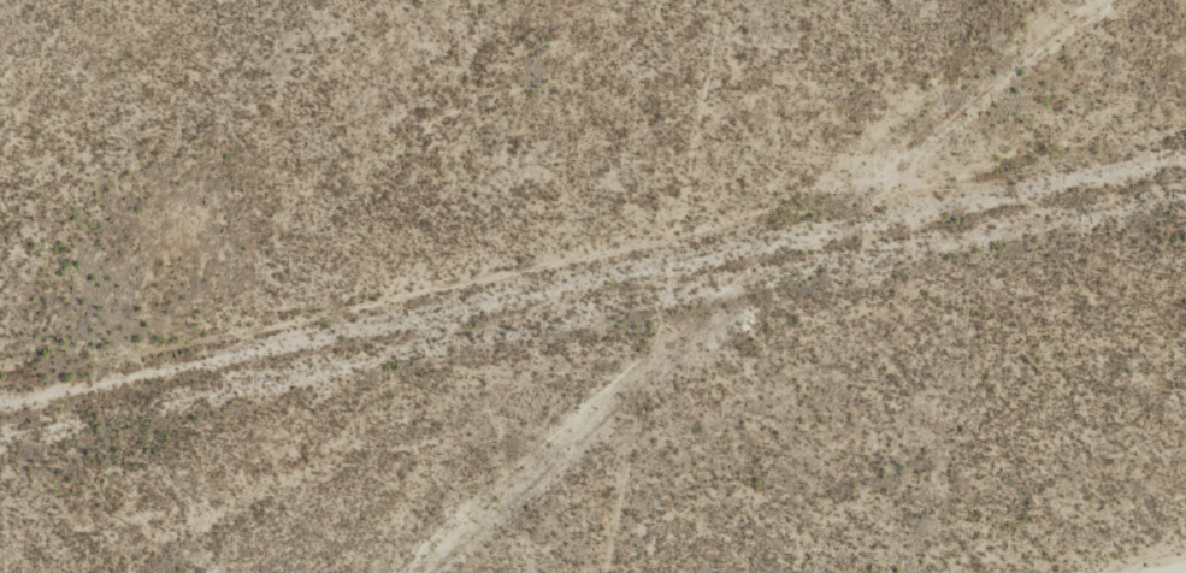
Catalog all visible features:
road: (592, 329)

